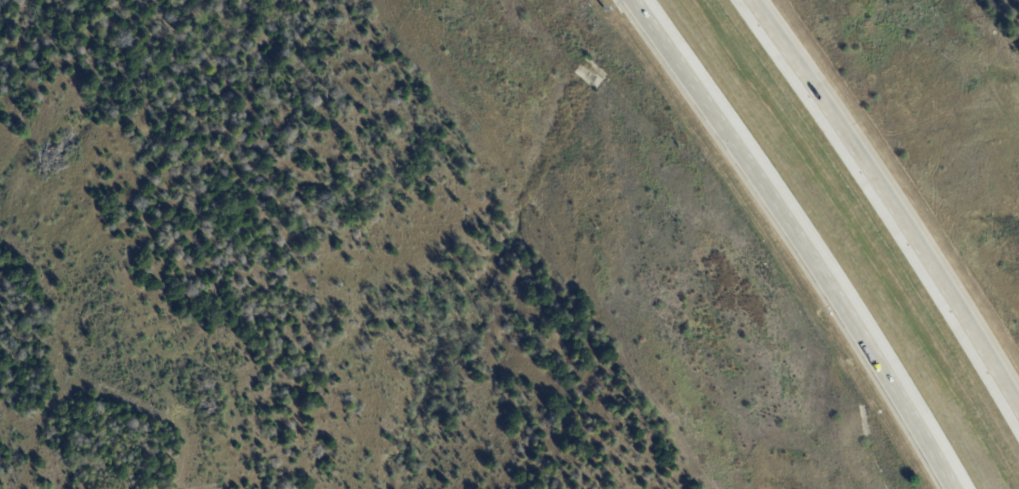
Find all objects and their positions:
road: (888, 197)
road: (811, 239)

